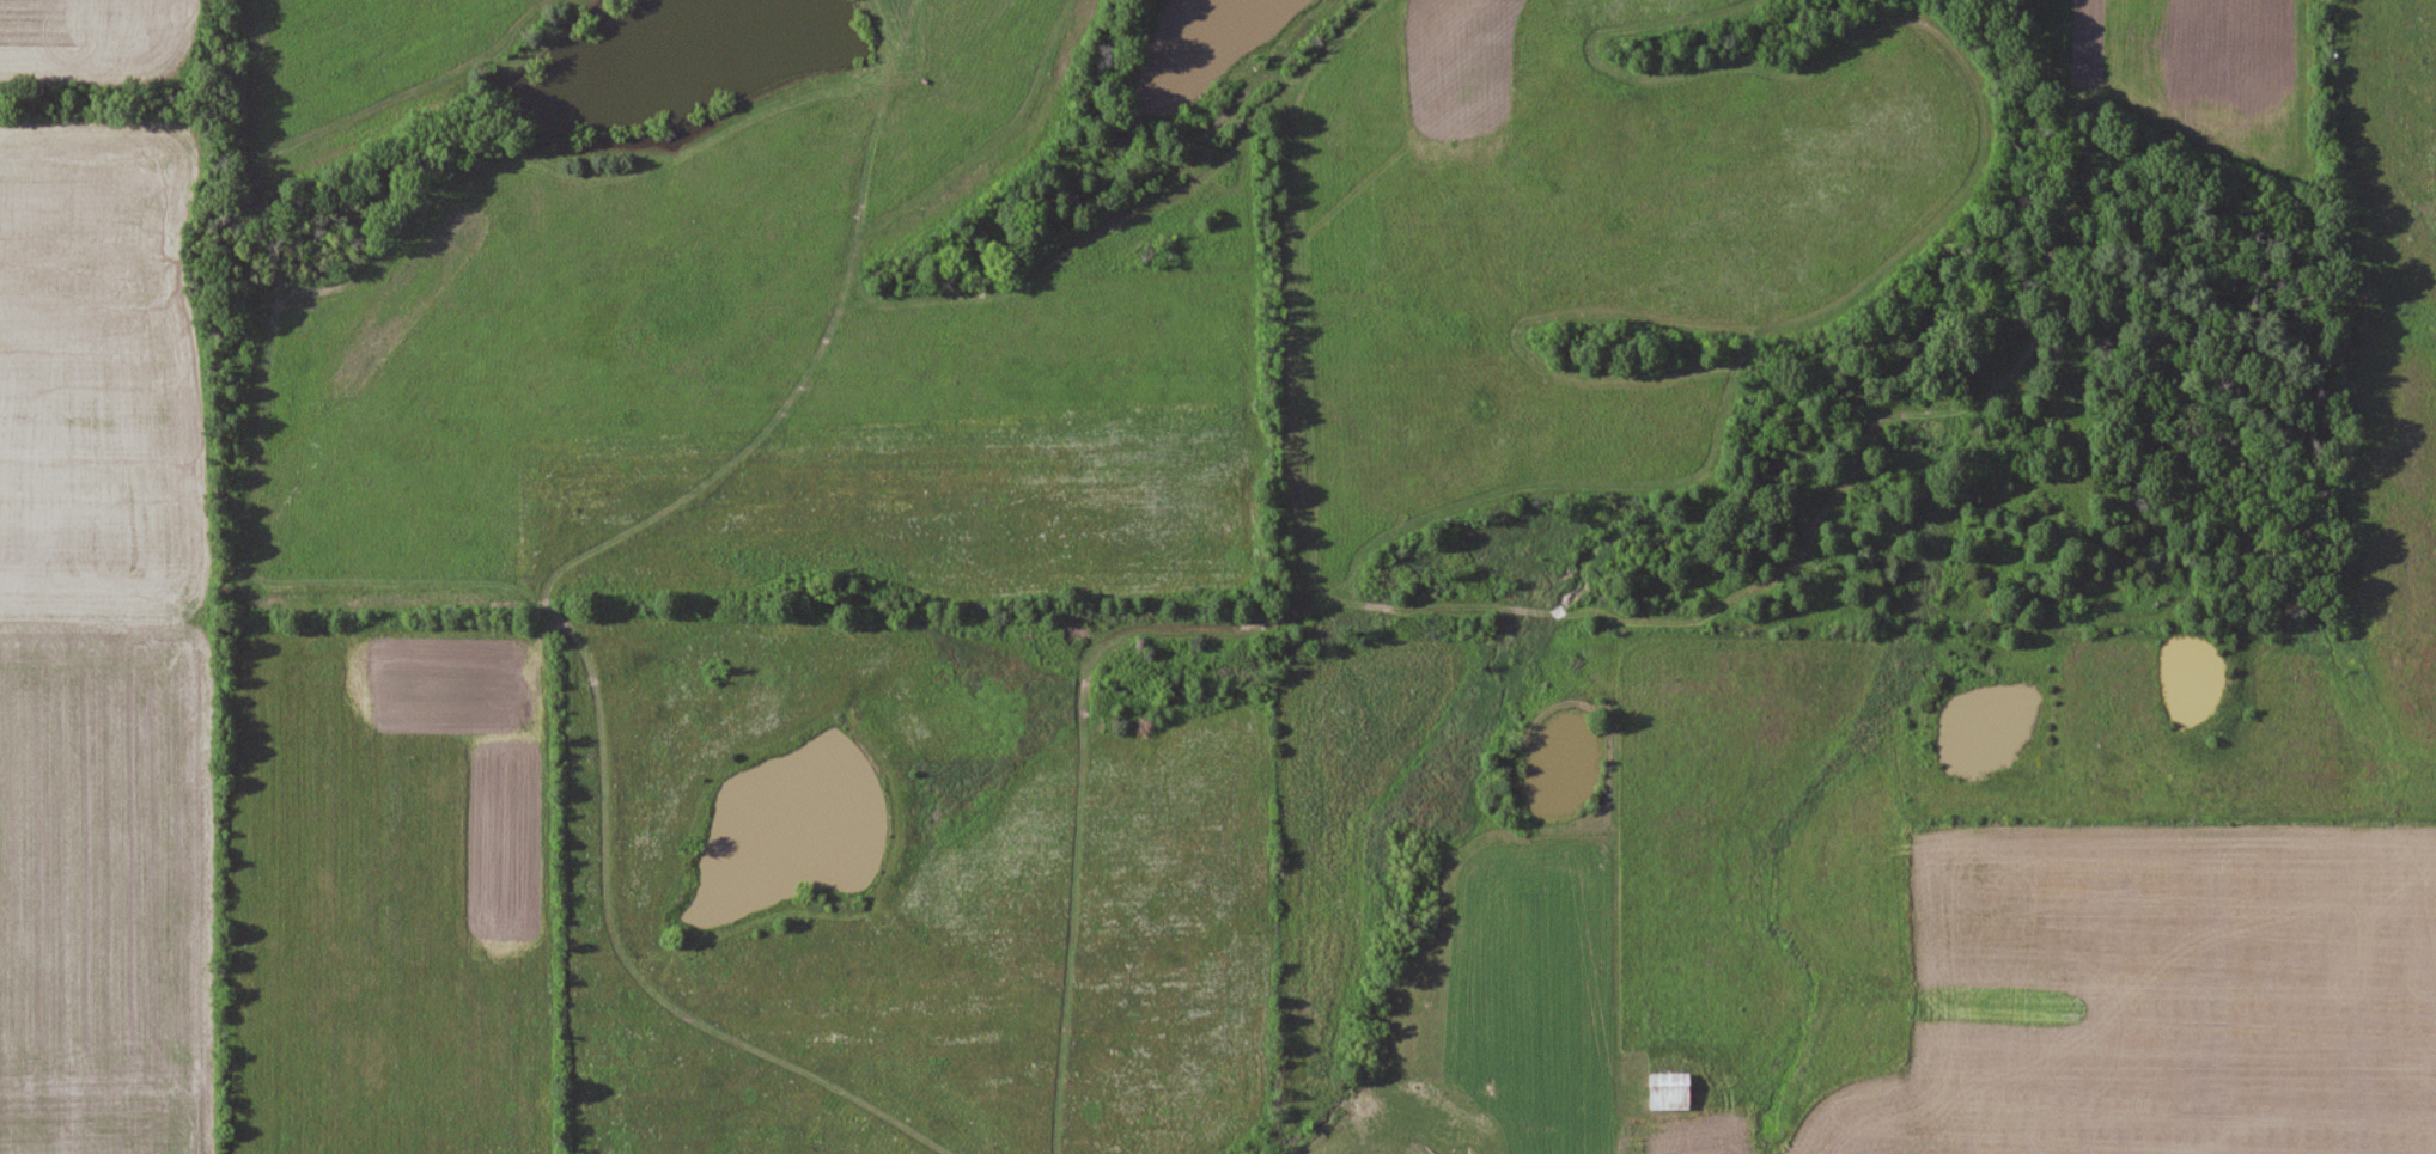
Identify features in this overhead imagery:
building: (1667, 1092)

